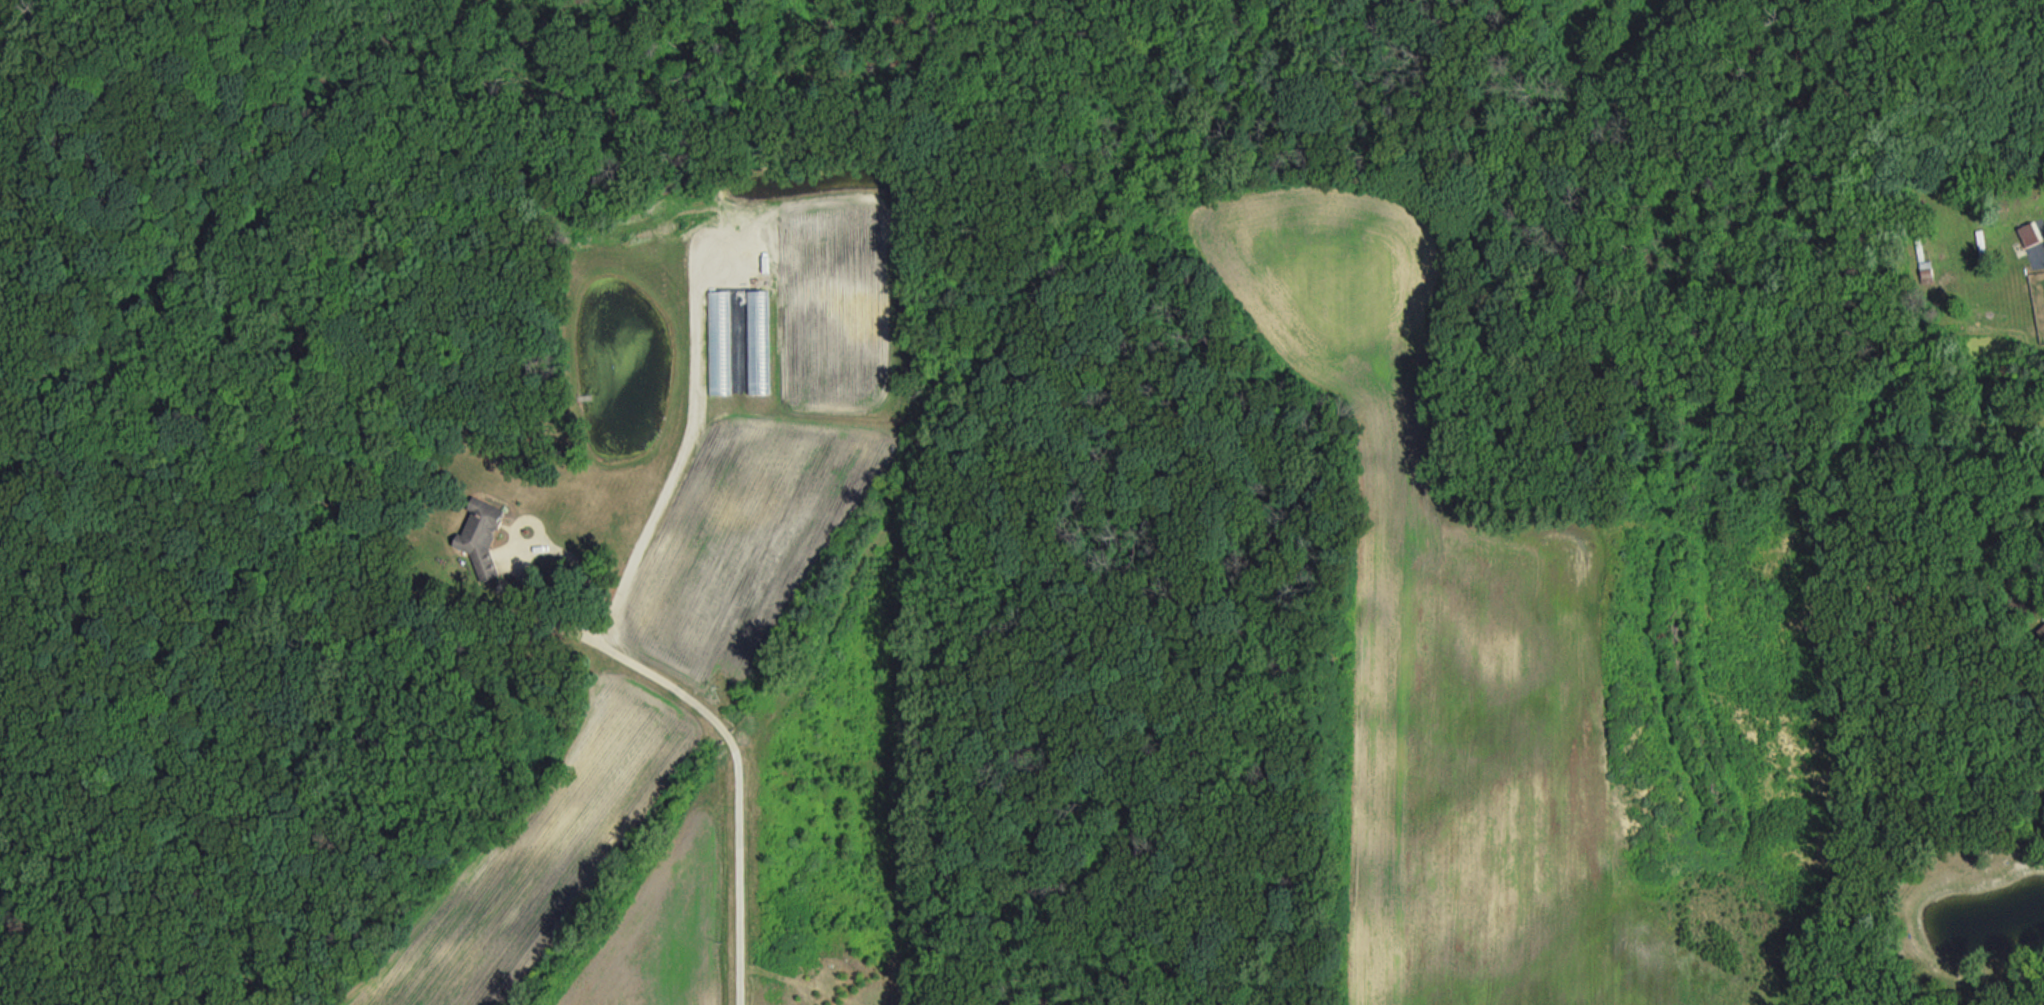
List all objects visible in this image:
park: (1480, 77)
building: (2024, 233)
building: (735, 317)
building: (477, 534)
road: (734, 736)

